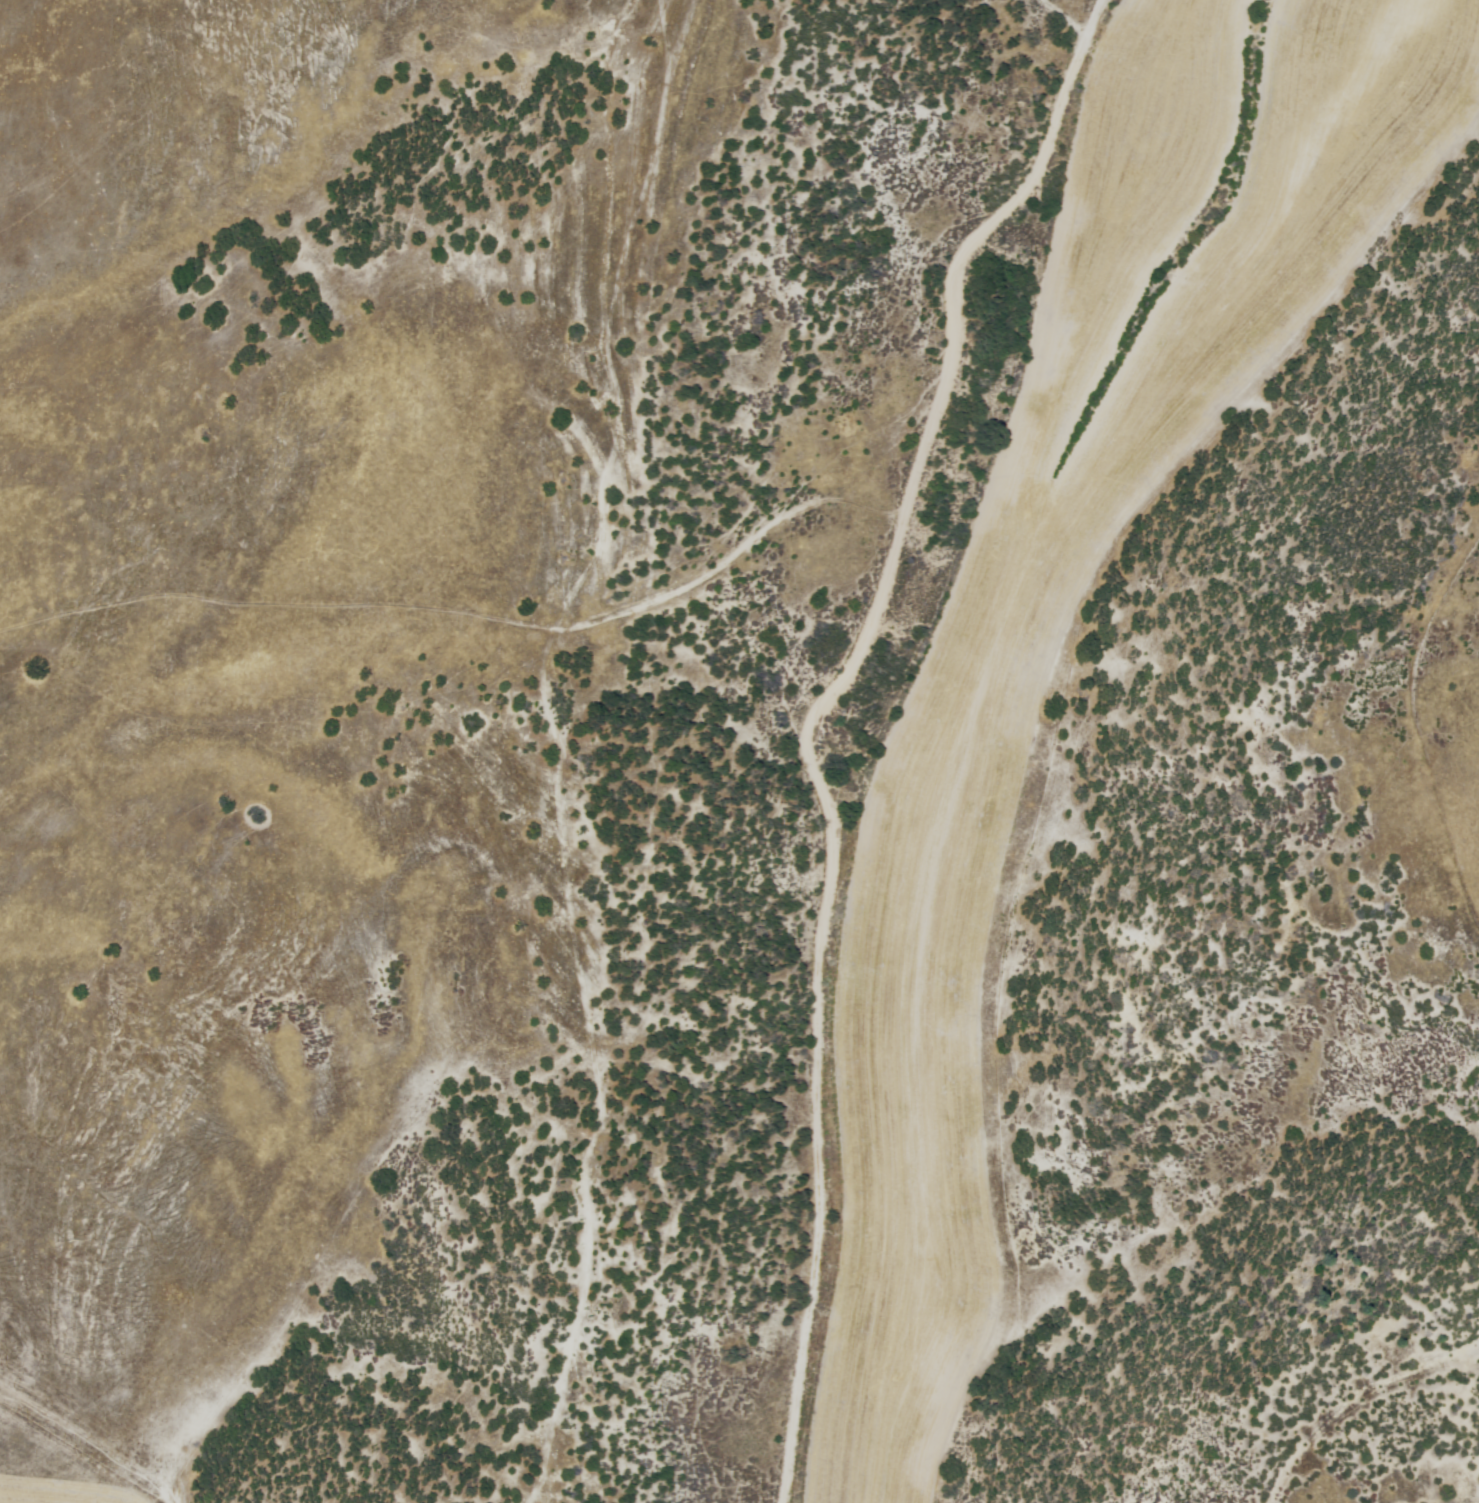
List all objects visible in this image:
road: (827, 732)

